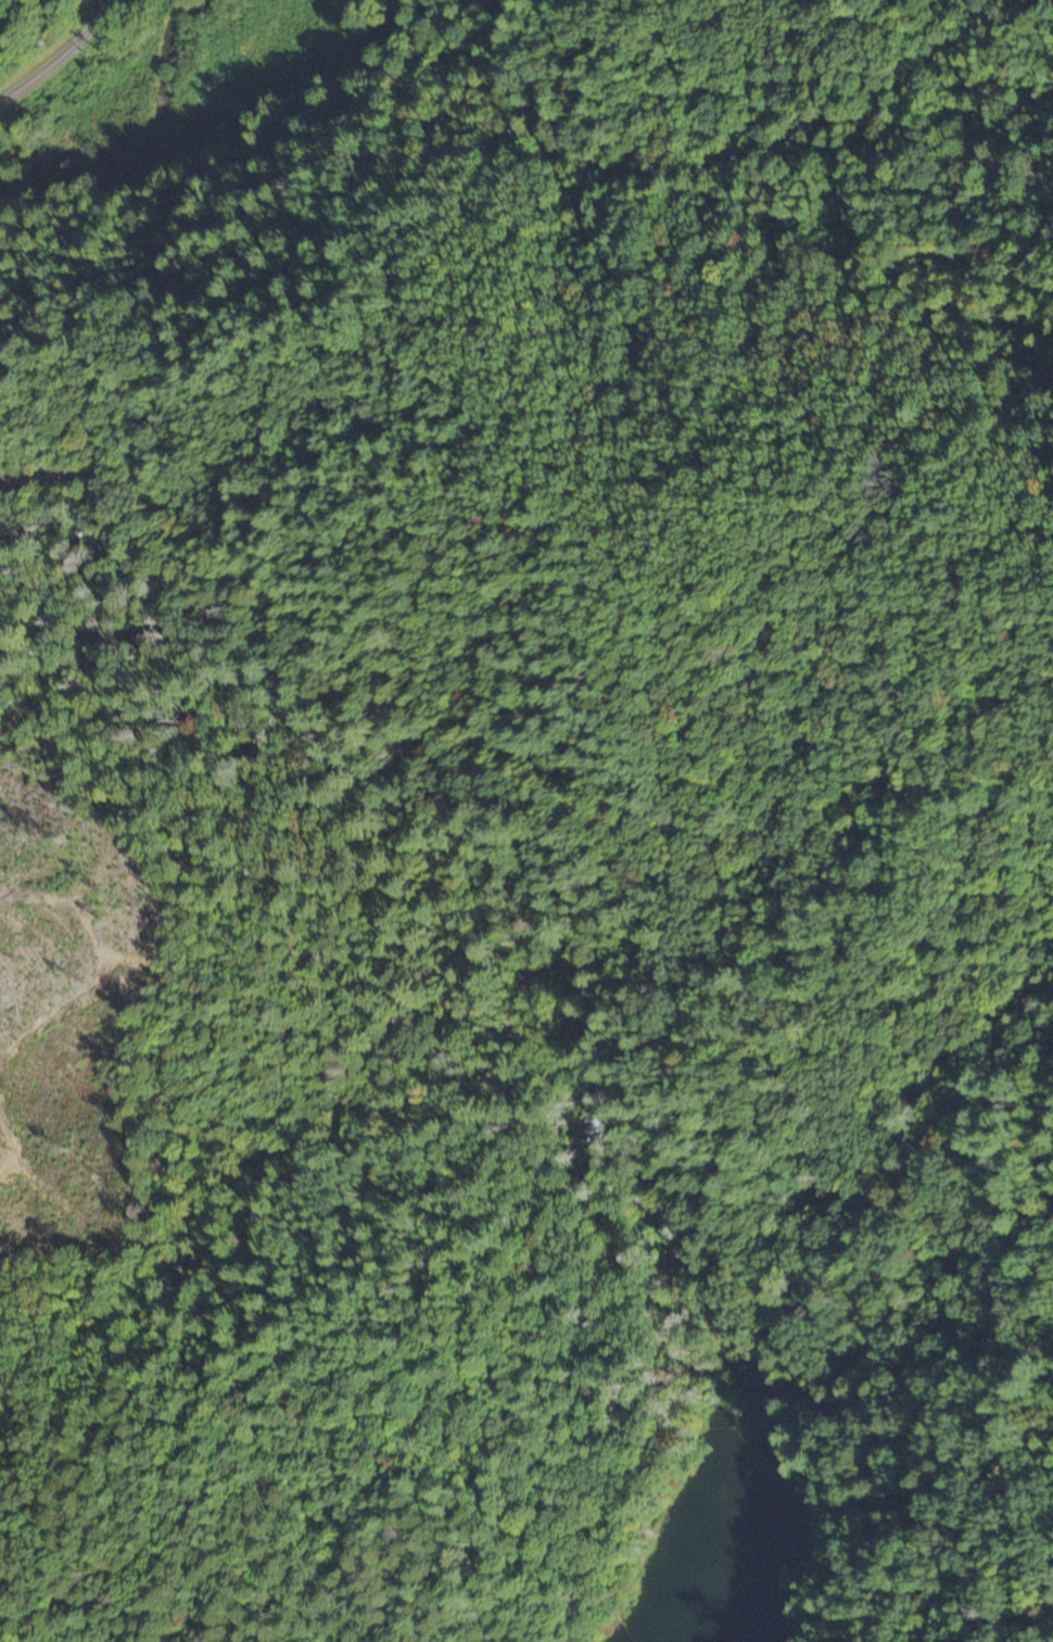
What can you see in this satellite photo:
road: (61, 55)
road: (559, 759)
road: (1038, 1131)

